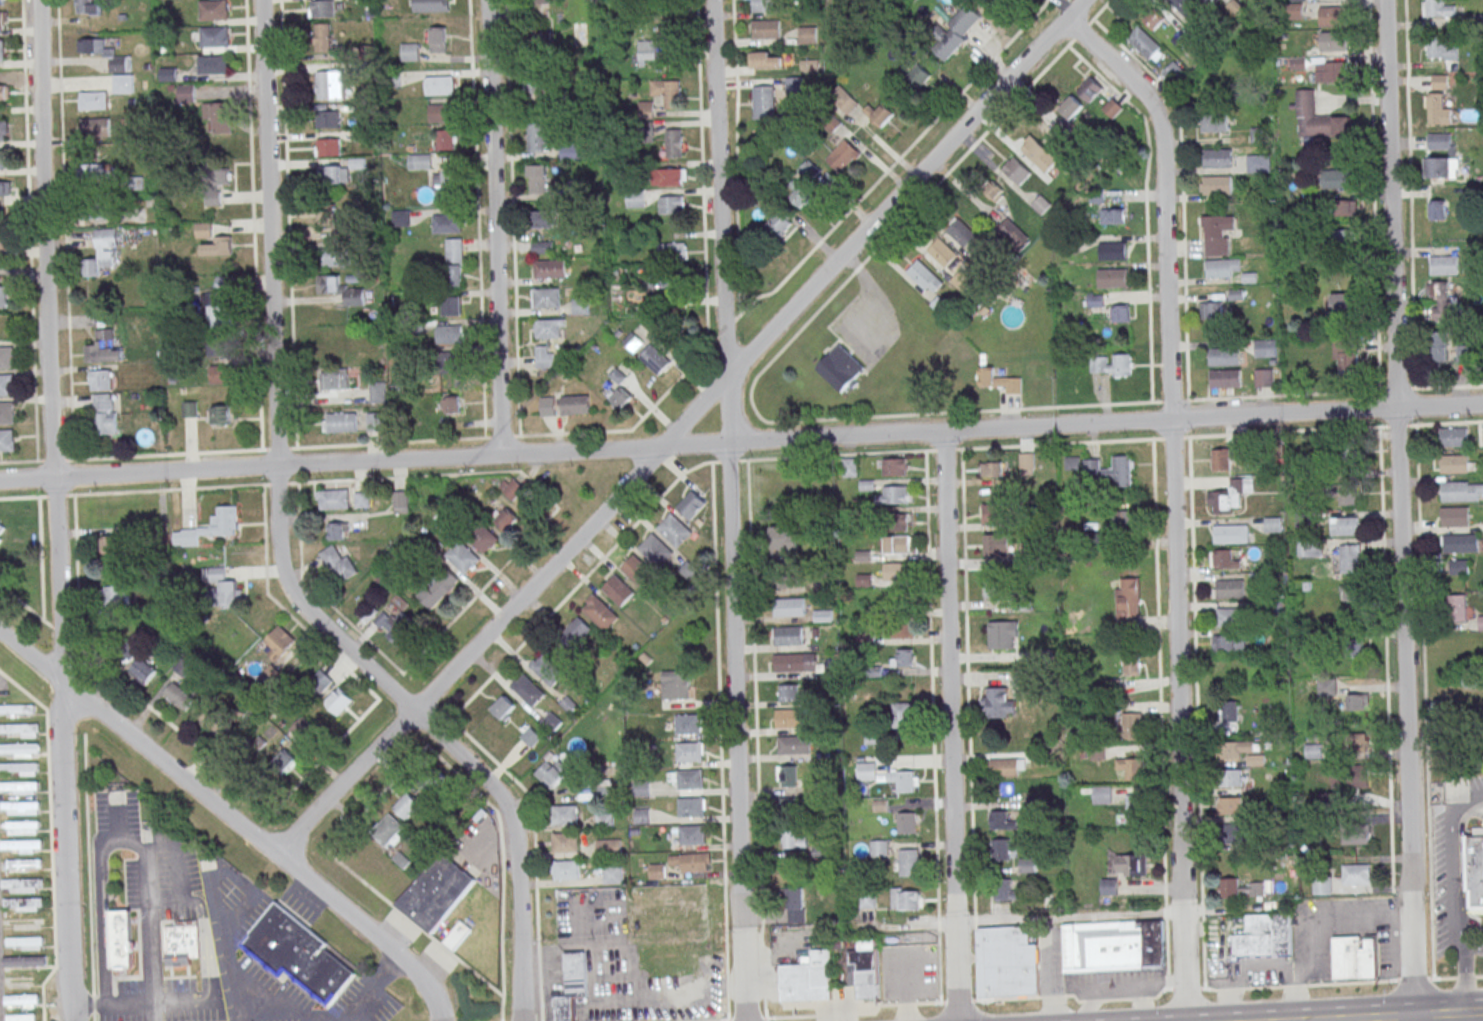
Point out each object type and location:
building: (1, 1)
building: (540, 1)
building: (1203, 1)
building: (764, 5)
building: (88, 7)
building: (432, 7)
building: (1184, 7)
building: (322, 8)
building: (1437, 9)
building: (214, 10)
building: (1330, 16)
building: (2, 19)
building: (1154, 19)
building: (959, 26)
building: (765, 29)
building: (806, 34)
building: (214, 36)
building: (323, 37)
building: (439, 39)
building: (1332, 42)
building: (539, 44)
building: (1144, 44)
building: (1439, 49)
building: (1, 50)
building: (411, 51)
building: (646, 51)
building: (765, 60)
building: (111, 63)
building: (213, 64)
building: (809, 65)
building: (1330, 71)
building: (1172, 72)
building: (534, 81)
building: (1439, 82)
building: (330, 85)
building: (439, 85)
building: (794, 85)
building: (1088, 88)
building: (4, 92)
building: (186, 93)
building: (667, 93)
building: (93, 100)
building: (843, 101)
building: (763, 102)
building: (1070, 107)
building: (1112, 108)
building: (1437, 109)
building: (440, 113)
building: (879, 114)
building: (218, 116)
building: (1317, 118)
building: (328, 119)
building: (1214, 122)
building: (1055, 123)
building: (95, 127)
building: (3, 130)
building: (538, 138)
building: (446, 139)
building: (674, 143)
building: (328, 147)
building: (570, 152)
building: (1441, 155)
building: (842, 156)
building: (1039, 156)
building: (1217, 158)
building: (3, 160)
building: (419, 161)
building: (1258, 163)
building: (1016, 172)
building: (94, 173)
building: (330, 174)
building: (670, 176)
building: (451, 179)
building: (539, 179)
building: (1336, 179)
building: (215, 185)
building: (1215, 185)
building: (806, 186)
building: (4, 188)
building: (635, 200)
building: (671, 204)
building: (1040, 204)
building: (1436, 210)
building: (99, 212)
building: (329, 215)
building: (544, 219)
building: (780, 222)
building: (446, 223)
road: (493, 227)
building: (961, 233)
building: (1216, 235)
building: (212, 241)
building: (4, 242)
building: (544, 247)
building: (103, 251)
building: (673, 251)
building: (1112, 251)
building: (944, 255)
building: (336, 257)
building: (453, 262)
building: (1443, 265)
building: (549, 268)
building: (1222, 268)
building: (664, 277)
building: (924, 277)
building: (1112, 278)
building: (961, 280)
building: (341, 290)
building: (3, 296)
building: (546, 297)
building: (1438, 299)
road: (881, 301)
building: (1344, 304)
building: (218, 306)
building: (452, 306)
building: (581, 307)
building: (1214, 311)
building: (1121, 313)
building: (548, 328)
building: (450, 334)
building: (633, 341)
building: (216, 346)
building: (1439, 346)
building: (104, 348)
building: (1265, 348)
building: (1464, 352)
building: (1346, 354)
building: (545, 356)
building: (1224, 356)
building: (6, 357)
building: (655, 359)
building: (449, 362)
building: (1111, 365)
building: (840, 368)
building: (220, 374)
building: (1263, 377)
building: (1225, 378)
building: (101, 379)
building: (334, 379)
building: (998, 380)
road: (274, 381)
building: (6, 384)
building: (378, 392)
building: (619, 396)
building: (453, 404)
building: (575, 404)
building: (548, 407)
building: (7, 412)
building: (104, 414)
building: (221, 415)
building: (375, 421)
building: (340, 422)
road: (679, 427)
road: (1219, 435)
building: (1454, 436)
building: (1482, 437)
building: (6, 439)
road: (741, 441)
road: (315, 446)
road: (945, 448)
building: (1350, 452)
road: (836, 454)
building: (1223, 458)
road: (728, 460)
building: (1454, 463)
building: (1026, 464)
building: (850, 467)
building: (894, 467)
building: (990, 469)
building: (1119, 472)
building: (511, 487)
building: (1455, 490)
road: (540, 491)
building: (1346, 494)
road: (56, 495)
building: (893, 495)
building: (1228, 495)
road: (23, 496)
building: (333, 499)
building: (361, 499)
road: (1172, 500)
building: (400, 501)
building: (691, 505)
road: (54, 510)
road: (729, 510)
road: (1398, 510)
building: (991, 513)
building: (1455, 516)
building: (505, 518)
building: (1125, 519)
building: (222, 521)
building: (901, 522)
building: (1271, 524)
building: (1345, 526)
building: (675, 530)
building: (338, 531)
building: (1230, 533)
building: (483, 539)
building: (1460, 543)
building: (780, 544)
building: (896, 544)
building: (110, 545)
building: (994, 545)
building: (655, 549)
building: (1308, 549)
road: (41, 557)
building: (462, 557)
building: (1349, 558)
building: (1223, 559)
building: (338, 562)
building: (1459, 566)
building: (636, 569)
building: (688, 570)
building: (895, 572)
building: (780, 580)
building: (994, 586)
building: (222, 588)
building: (437, 588)
building: (1227, 588)
building: (618, 589)
building: (1352, 592)
building: (115, 597)
building: (1127, 602)
road: (26, 604)
building: (1021, 605)
building: (789, 607)
building: (1457, 608)
building: (599, 612)
building: (823, 616)
building: (1228, 617)
building: (1480, 622)
building: (391, 627)
building: (903, 630)
building: (575, 632)
road: (61, 633)
building: (787, 635)
building: (1003, 635)
building: (279, 642)
road: (75, 643)
building: (1229, 643)
building: (125, 648)
building: (1352, 650)
building: (902, 658)
building: (794, 662)
building: (1131, 665)
building: (546, 669)
building: (143, 671)
building: (269, 676)
road: (949, 676)
building: (1019, 678)
building: (321, 681)
road: (930, 683)
building: (677, 684)
building: (527, 690)
building: (1341, 692)
building: (787, 693)
building: (179, 696)
building: (338, 701)
road: (464, 703)
building: (999, 703)
building: (504, 708)
building: (16, 709)
building: (1229, 711)
building: (902, 715)
building: (787, 718)
building: (209, 722)
building: (552, 722)
building: (692, 724)
building: (1132, 726)
building: (19, 729)
building: (300, 729)
building: (531, 737)
building: (1353, 742)
building: (794, 745)
building: (1234, 749)
building: (19, 750)
building: (690, 751)
building: (1313, 751)
building: (283, 762)
building: (1006, 767)
building: (18, 768)
building: (1130, 768)
building: (866, 770)
building: (549, 774)
building: (786, 776)
building: (1351, 776)
building: (1232, 778)
building: (690, 779)
building: (904, 780)
building: (18, 788)
building: (1101, 795)
building: (406, 805)
building: (1230, 805)
building: (691, 807)
building: (19, 808)
road: (275, 808)
parking lot: (117, 811)
building: (1134, 811)
building: (564, 814)
road: (117, 816)
road: (231, 818)
building: (605, 820)
building: (1000, 820)
building: (906, 823)
building: (22, 827)
building: (388, 830)
building: (1355, 833)
building: (1236, 834)
building: (693, 835)
building: (795, 839)
road: (500, 841)
building: (566, 842)
road: (333, 843)
road: (517, 844)
building: (21, 846)
building: (606, 847)
building: (879, 848)
building: (1001, 849)
road: (175, 857)
building: (691, 861)
building: (909, 862)
building: (1027, 864)
building: (24, 865)
building: (1130, 865)
building: (1474, 867)
parking lot: (179, 868)
building: (566, 870)
building: (657, 872)
road: (217, 874)
building: (613, 874)
building: (1357, 875)
parking lot: (135, 880)
building: (22, 885)
parking lot: (220, 886)
building: (1108, 886)
building: (1322, 886)
building: (1003, 889)
building: (1239, 889)
building: (435, 890)
road: (1456, 895)
building: (907, 899)
road: (145, 901)
road: (174, 901)
building: (22, 903)
building: (795, 905)
road: (238, 908)
parking lot: (176, 910)
parking lot: (245, 911)
road: (1224, 913)
road: (1069, 916)
road: (1326, 918)
road: (937, 923)
road: (101, 924)
road: (906, 925)
building: (456, 933)
building: (120, 935)
building: (1264, 937)
building: (181, 942)
building: (24, 943)
road: (224, 944)
road: (501, 944)
building: (1114, 945)
road: (1469, 945)
building: (298, 954)
road: (203, 955)
building: (1355, 958)
building: (24, 961)
road: (211, 961)
building: (1007, 962)
building: (865, 967)
road: (939, 967)
road: (1245, 968)
road: (1047, 969)
road: (957, 971)
building: (808, 978)
parking lot: (272, 983)
building: (573, 985)
road: (370, 988)
road: (262, 991)
building: (685, 994)
road: (174, 999)
road: (290, 999)
building: (21, 1000)
road: (1092, 1000)
parking lot: (366, 1001)
parking lot: (124, 1002)
parking lot: (186, 1002)
road: (1294, 1002)
road: (121, 1004)
road: (241, 1012)
road: (292, 1012)
road: (1462, 1013)
parking lot: (276, 1015)
road: (1427, 1015)
road: (1482, 1016)
building: (20, 1017)
road: (1364, 1018)

